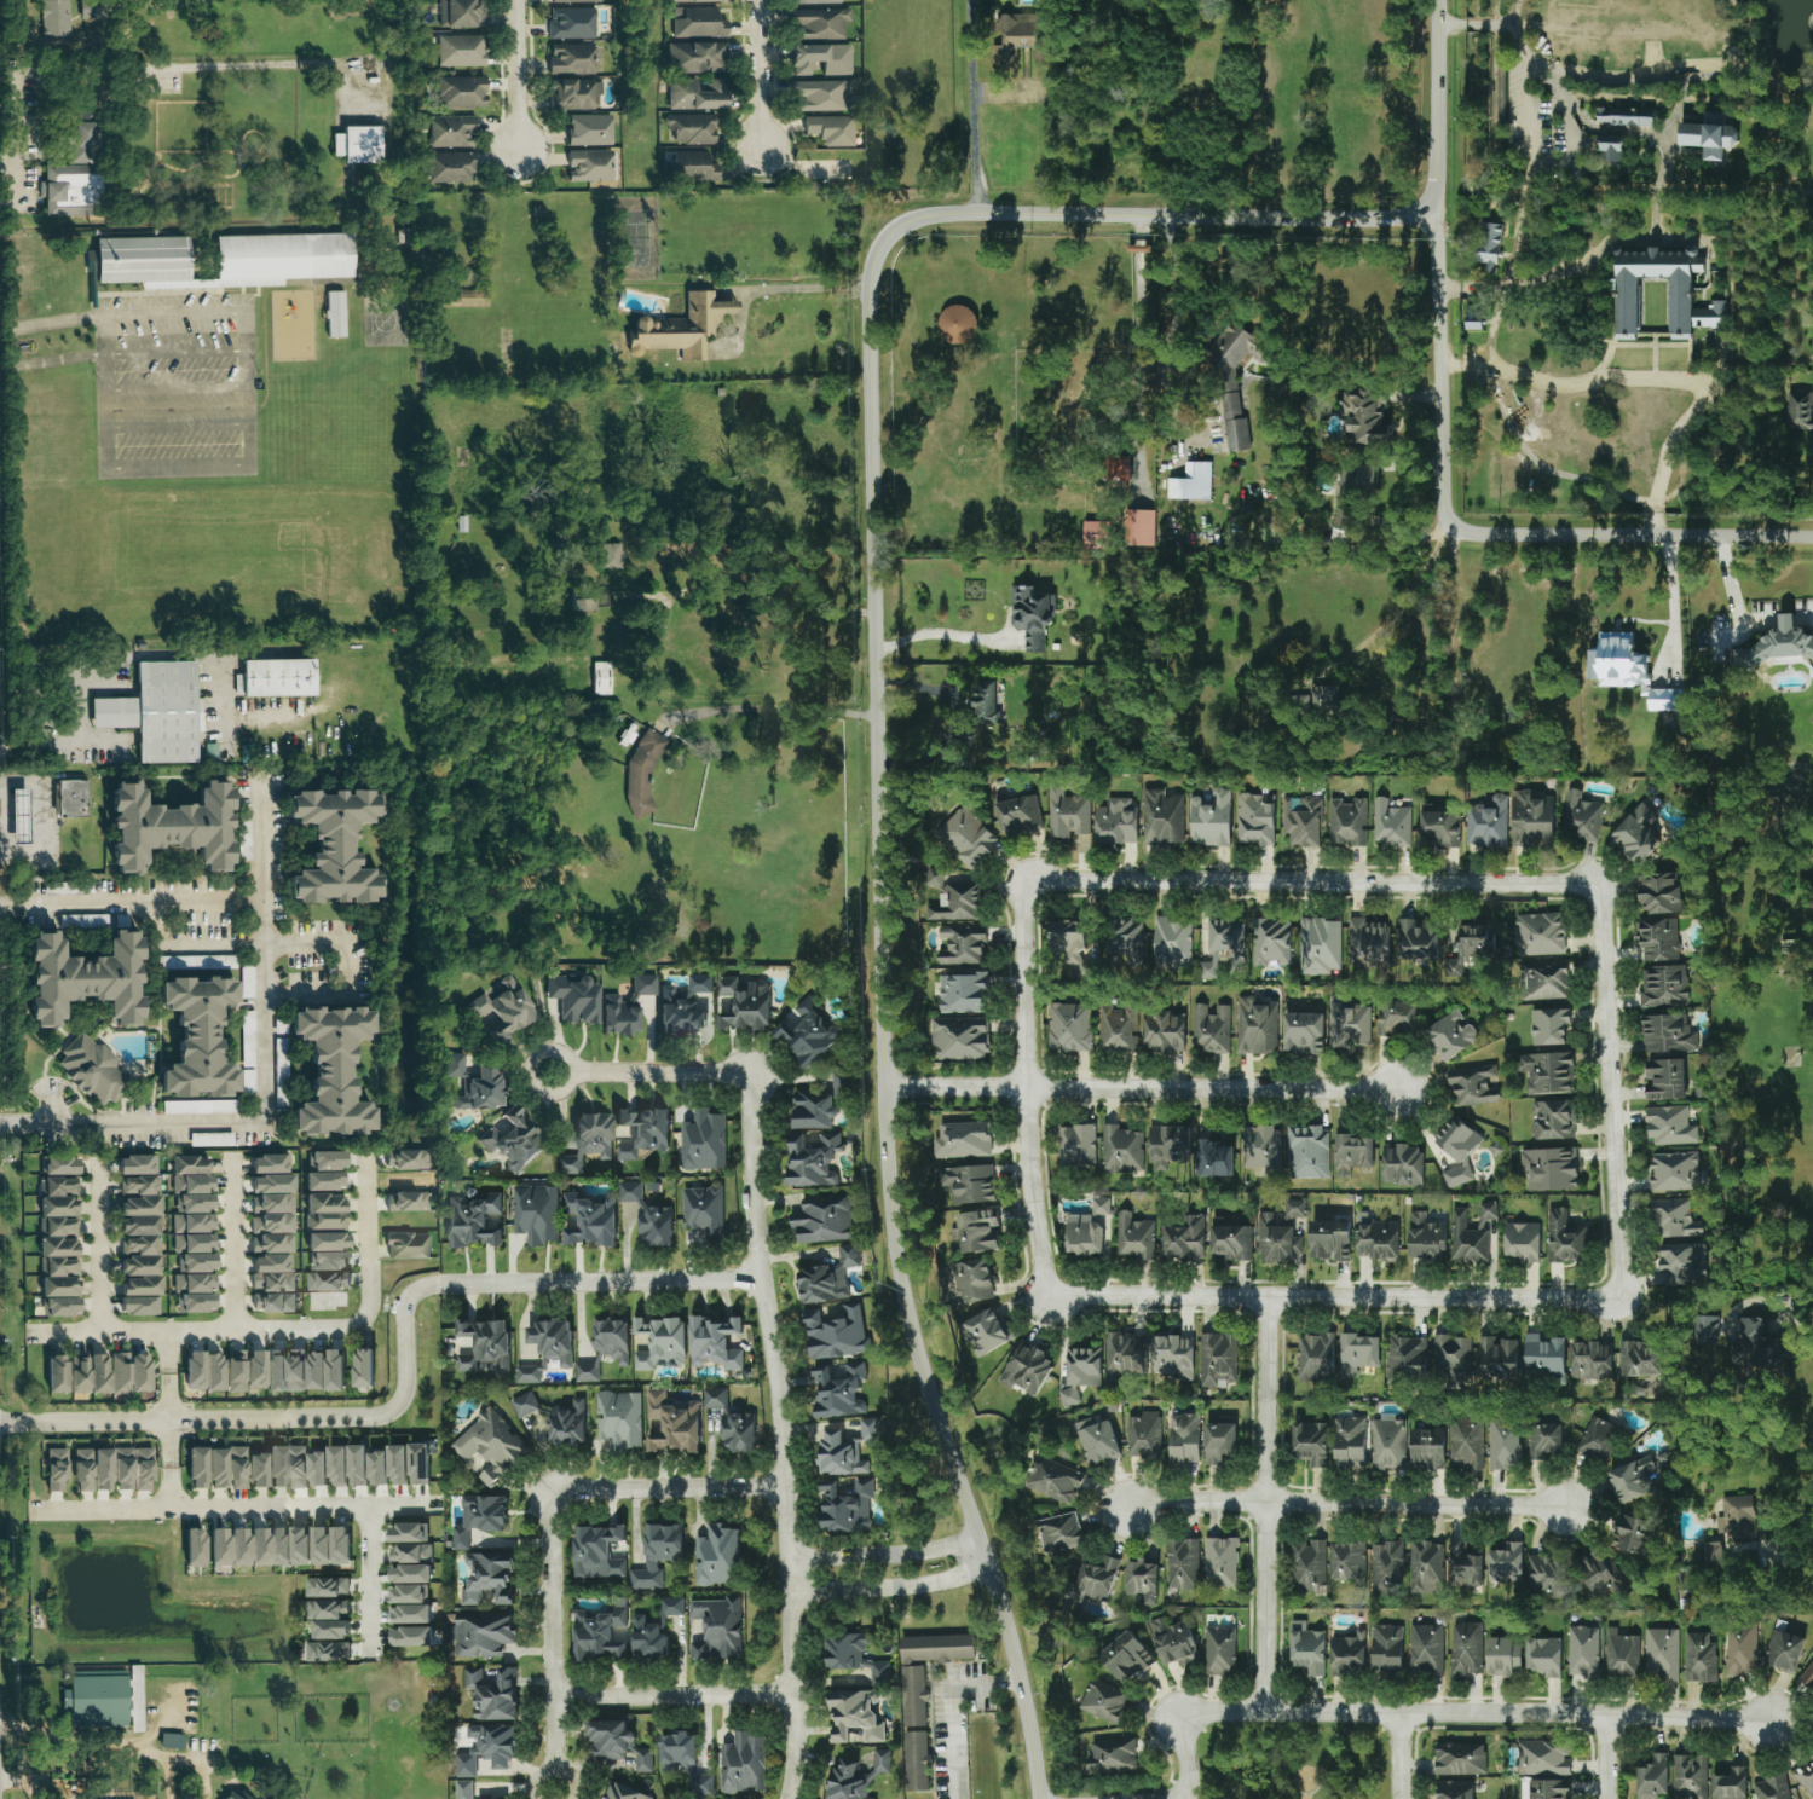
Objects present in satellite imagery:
building: (572, 1)
building: (692, 1)
building: (816, 1)
building: (460, 15)
building: (53, 18)
building: (570, 23)
building: (697, 24)
building: (818, 24)
road: (1473, 27)
building: (1020, 39)
building: (460, 51)
building: (695, 58)
building: (570, 59)
building: (820, 59)
road: (195, 65)
road: (760, 71)
road: (516, 74)
road: (1638, 81)
building: (460, 92)
building: (572, 93)
building: (694, 94)
building: (819, 96)
road: (970, 105)
building: (1623, 116)
building: (691, 128)
road: (1593, 129)
building: (588, 131)
building: (830, 131)
building: (450, 132)
parking lot: (1541, 132)
building: (1709, 133)
building: (81, 138)
road: (17, 139)
building: (356, 145)
building: (1610, 150)
road: (1659, 158)
building: (588, 166)
building: (448, 167)
building: (688, 167)
road: (1525, 170)
railway: (1572, 189)
building: (69, 190)
road: (1136, 229)
road: (1137, 248)
building: (1488, 249)
building: (279, 260)
building: (138, 262)
building: (207, 287)
road: (783, 288)
road: (1470, 288)
building: (469, 299)
building: (1626, 306)
road: (172, 316)
building: (1710, 316)
building: (331, 318)
road: (1173, 320)
road: (50, 324)
building: (955, 324)
building: (677, 329)
road: (1439, 346)
building: (1230, 347)
road: (173, 352)
road: (1139, 358)
road: (50, 361)
road: (174, 388)
road: (247, 391)
road: (102, 393)
building: (1798, 412)
building: (1363, 415)
building: (1232, 423)
road: (174, 426)
road: (1705, 432)
road: (174, 468)
building: (1119, 472)
building: (1356, 478)
building: (1190, 481)
building: (1341, 522)
building: (1139, 527)
building: (1093, 533)
road: (1613, 534)
building: (607, 555)
road: (744, 591)
building: (589, 600)
road: (1671, 607)
road: (1450, 612)
road: (1734, 614)
building: (1029, 615)
road: (941, 634)
building: (1777, 644)
road: (874, 648)
building: (1627, 670)
building: (273, 677)
building: (600, 677)
building: (1324, 699)
building: (985, 702)
road: (767, 706)
road: (83, 710)
building: (156, 712)
road: (952, 718)
building: (209, 751)
building: (71, 797)
building: (1016, 812)
building: (1067, 812)
building: (19, 814)
gas station: (19, 814)
building: (1580, 816)
building: (1160, 817)
building: (1208, 818)
building: (1253, 818)
building: (1530, 818)
building: (1300, 820)
building: (1114, 821)
building: (1346, 821)
building: (1486, 822)
building: (1390, 823)
building: (167, 826)
building: (1440, 827)
building: (1635, 834)
building: (966, 837)
building: (330, 845)
road: (1311, 880)
road: (192, 899)
building: (954, 902)
building: (1658, 916)
building: (1538, 933)
building: (1066, 938)
building: (1125, 939)
building: (1416, 939)
building: (1476, 941)
building: (1171, 942)
building: (1270, 942)
building: (1367, 943)
road: (291, 944)
building: (959, 944)
building: (1222, 944)
building: (1318, 945)
building: (80, 978)
building: (1543, 981)
building: (698, 983)
building: (1663, 985)
building: (960, 993)
building: (573, 997)
building: (743, 1002)
building: (503, 1008)
building: (677, 1013)
building: (1395, 1018)
building: (1346, 1023)
building: (1255, 1025)
building: (1548, 1026)
building: (1068, 1028)
building: (1118, 1028)
building: (1209, 1028)
building: (1162, 1031)
building: (1303, 1032)
building: (1667, 1034)
building: (806, 1035)
building: (1450, 1035)
building: (194, 1036)
building: (958, 1039)
building: (90, 1070)
building: (329, 1070)
road: (652, 1070)
building: (279, 1071)
building: (1546, 1074)
building: (1664, 1080)
building: (472, 1083)
building: (838, 1084)
building: (1472, 1084)
road: (1026, 1087)
road: (1139, 1087)
road: (1610, 1089)
building: (204, 1107)
building: (812, 1110)
building: (1552, 1120)
road: (246, 1122)
building: (1669, 1126)
building: (639, 1132)
building: (963, 1139)
building: (512, 1140)
building: (587, 1141)
building: (701, 1141)
building: (1075, 1145)
building: (1166, 1146)
building: (1456, 1147)
building: (1261, 1149)
building: (1120, 1150)
building: (1306, 1152)
building: (1350, 1155)
building: (1212, 1158)
building: (325, 1159)
building: (404, 1159)
building: (812, 1161)
building: (270, 1164)
building: (1401, 1164)
building: (57, 1165)
building: (1548, 1169)
building: (1673, 1172)
building: (133, 1174)
building: (189, 1174)
building: (323, 1180)
building: (270, 1184)
building: (968, 1184)
building: (56, 1186)
building: (405, 1202)
building: (195, 1203)
building: (1292, 1209)
building: (323, 1211)
building: (701, 1213)
building: (535, 1214)
building: (647, 1216)
building: (1674, 1217)
building: (589, 1219)
building: (472, 1220)
building: (821, 1220)
building: (192, 1224)
building: (271, 1224)
building: (975, 1231)
building: (1085, 1231)
building: (1470, 1233)
road: (370, 1236)
building: (1133, 1237)
building: (1424, 1237)
building: (1183, 1238)
building: (1374, 1238)
building: (1229, 1239)
building: (1275, 1239)
building: (1328, 1239)
building: (1564, 1239)
building: (1520, 1240)
road: (233, 1242)
building: (325, 1242)
building: (192, 1243)
road: (100, 1244)
building: (137, 1245)
building: (406, 1245)
building: (57, 1246)
building: (328, 1261)
building: (196, 1262)
building: (1681, 1265)
building: (826, 1278)
building: (325, 1280)
building: (971, 1280)
building: (192, 1283)
building: (271, 1284)
road: (1334, 1295)
building: (195, 1302)
building: (137, 1306)
building: (58, 1307)
road: (1795, 1320)
road: (194, 1329)
building: (1704, 1330)
building: (985, 1332)
building: (833, 1334)
building: (714, 1342)
building: (658, 1343)
building: (1759, 1343)
building: (481, 1344)
building: (544, 1348)
building: (604, 1348)
building: (1358, 1353)
building: (1543, 1354)
building: (1124, 1355)
building: (1172, 1357)
building: (1450, 1357)
building: (1496, 1357)
building: (1313, 1358)
building: (1639, 1359)
building: (1216, 1360)
building: (1404, 1360)
building: (1589, 1360)
building: (360, 1367)
building: (243, 1370)
building: (284, 1370)
building: (323, 1370)
building: (1024, 1370)
building: (202, 1371)
building: (128, 1372)
building: (1079, 1372)
building: (54, 1373)
building: (87, 1373)
road: (404, 1373)
building: (837, 1390)
building: (714, 1398)
building: (522, 1405)
road: (169, 1419)
building: (618, 1419)
building: (566, 1423)
building: (669, 1423)
building: (867, 1430)
road: (783, 1434)
building: (1143, 1435)
building: (1183, 1439)
building: (1597, 1439)
building: (1543, 1440)
building: (1096, 1441)
building: (1217, 1441)
building: (1347, 1441)
building: (1387, 1442)
building: (1309, 1444)
building: (1503, 1444)
building: (489, 1445)
building: (1465, 1445)
building: (1426, 1447)
building: (837, 1456)
building: (416, 1464)
building: (364, 1467)
building: (294, 1468)
building: (132, 1469)
building: (224, 1469)
building: (54, 1470)
building: (91, 1470)
building: (1632, 1480)
building: (1053, 1481)
road: (670, 1488)
road: (1195, 1500)
road: (1265, 1502)
road: (1415, 1504)
building: (844, 1506)
road: (235, 1508)
building: (477, 1517)
building: (1736, 1517)
building: (405, 1533)
building: (1057, 1533)
building: (1629, 1534)
building: (298, 1545)
building: (328, 1545)
road: (1779, 1545)
building: (237, 1546)
building: (277, 1546)
building: (194, 1548)
road: (883, 1551)
building: (595, 1552)
building: (1711, 1552)
building: (409, 1554)
building: (656, 1555)
building: (716, 1556)
building: (1346, 1561)
building: (1219, 1562)
building: (1505, 1563)
building: (1182, 1564)
building: (1307, 1564)
building: (1386, 1566)
building: (1425, 1567)
building: (1463, 1567)
building: (1543, 1573)
building: (408, 1574)
building: (486, 1578)
building: (1604, 1578)
road: (370, 1580)
building: (1141, 1580)
building: (1092, 1581)
building: (325, 1587)
road: (891, 1587)
building: (404, 1595)
building: (670, 1606)
building: (325, 1609)
building: (406, 1614)
building: (716, 1629)
building: (328, 1630)
road: (554, 1631)
building: (597, 1633)
building: (480, 1635)
building: (408, 1637)
building: (646, 1639)
building: (1172, 1642)
building: (843, 1649)
building: (1306, 1649)
building: (1385, 1649)
building: (1425, 1649)
building: (1465, 1649)
building: (325, 1650)
building: (1219, 1650)
building: (1581, 1650)
building: (1739, 1652)
building: (1783, 1652)
building: (1619, 1654)
building: (1659, 1654)
building: (1345, 1655)
building: (1542, 1656)
building: (1124, 1658)
building: (1502, 1658)
building: (1698, 1658)
building: (878, 1673)
building: (1807, 1678)
building: (490, 1694)
road: (675, 1694)
building: (912, 1694)
building: (96, 1699)
building: (1102, 1701)
road: (948, 1707)
road: (1390, 1710)
road: (1686, 1716)
building: (607, 1740)
building: (171, 1741)
building: (485, 1749)
road: (1401, 1754)
building: (1109, 1755)
road: (1182, 1755)
road: (1605, 1755)
building: (1542, 1758)
park: (1292, 1759)
building: (1459, 1759)
building: (642, 1760)
building: (914, 1760)
building: (682, 1763)
building: (741, 1764)
road: (552, 1772)
building: (854, 1777)
building: (1652, 1777)
building: (1688, 1777)
building: (1806, 1777)
road: (24, 1782)
building: (1730, 1784)
building: (1771, 1788)
building: (462, 1789)
building: (1453, 1789)
building: (1548, 1789)
building: (623, 1793)
building: (235, 1795)
building: (290, 1798)

